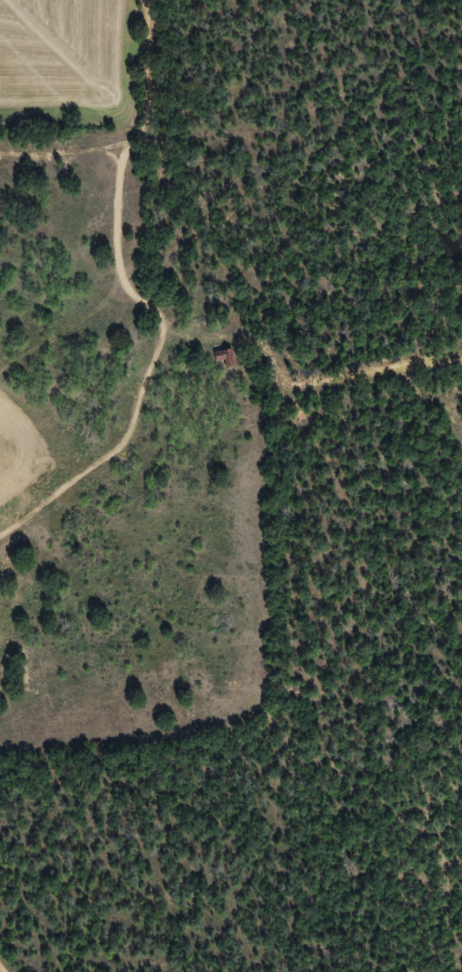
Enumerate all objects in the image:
building: (221, 358)
road: (129, 387)
road: (4, 967)

